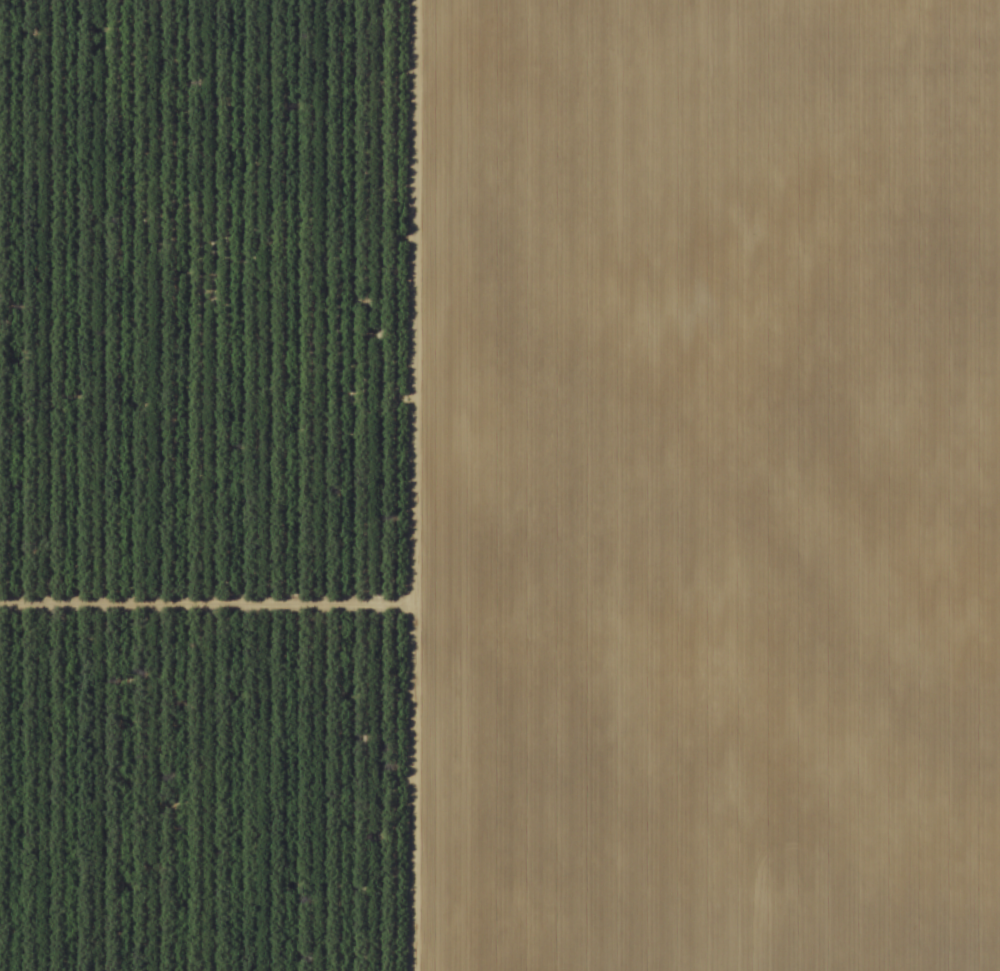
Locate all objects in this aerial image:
road: (409, 485)

